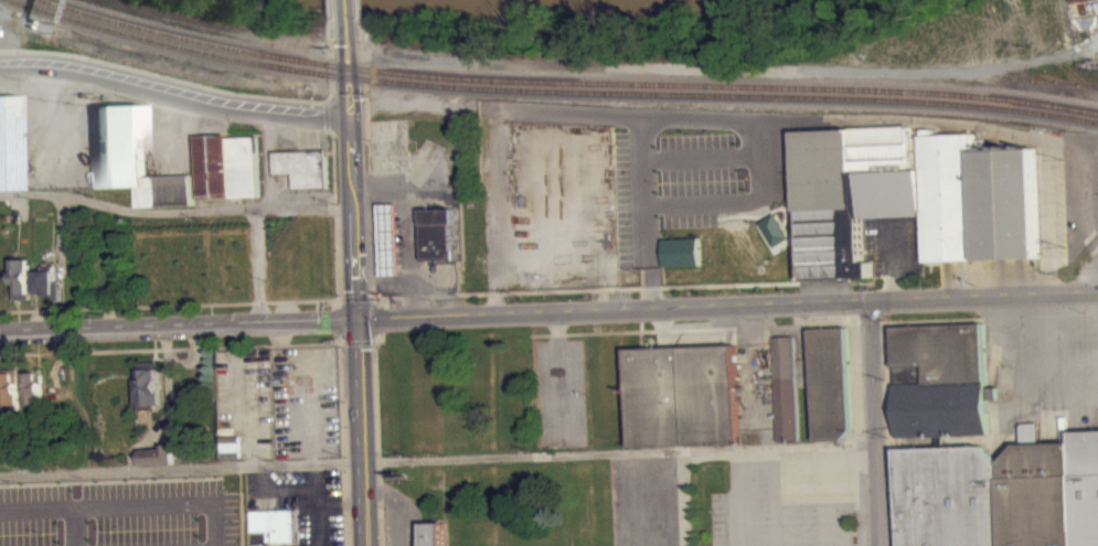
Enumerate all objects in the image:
road: (358, 18)
road: (329, 19)
road: (345, 19)
wastewater plant: (1032, 43)
road: (349, 77)
road: (193, 82)
railway: (553, 89)
road: (174, 90)
railway: (544, 98)
road: (324, 103)
road: (326, 117)
building: (9, 142)
building: (134, 159)
building: (227, 165)
road: (365, 165)
building: (302, 167)
building: (912, 205)
road: (173, 211)
road: (334, 211)
building: (234, 231)
building: (437, 234)
gas station: (392, 238)
building: (234, 239)
building: (391, 247)
building: (682, 270)
building: (22, 278)
building: (47, 280)
building: (213, 281)
road: (585, 287)
road: (354, 297)
road: (377, 300)
road: (334, 302)
road: (170, 303)
road: (725, 303)
traffic signals: (354, 318)
road: (379, 318)
road: (335, 319)
road: (177, 323)
road: (354, 332)
road: (335, 338)
road: (355, 342)
road: (371, 342)
road: (170, 347)
building: (148, 384)
building: (10, 388)
building: (33, 388)
building: (940, 388)
building: (830, 390)
building: (785, 396)
building: (683, 404)
building: (1097, 411)
road: (872, 421)
road: (376, 438)
road: (343, 443)
building: (228, 454)
building: (158, 457)
road: (505, 457)
building: (127, 488)
building: (1000, 494)
building: (127, 496)
building: (275, 525)
road: (856, 531)
building: (433, 535)
building: (136, 545)

